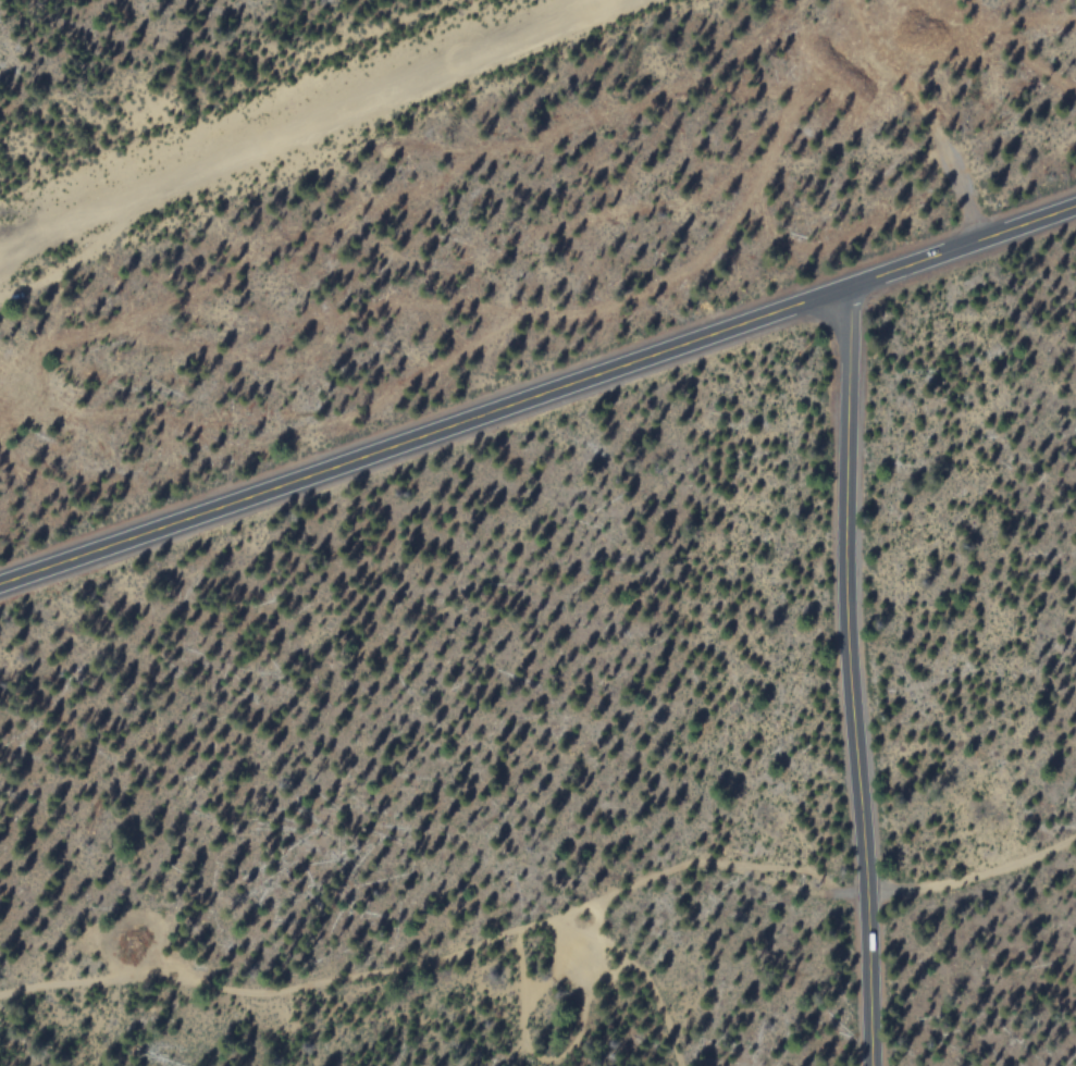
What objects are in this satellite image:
road: (926, 116)
airport runway: (296, 122)
road: (537, 396)
road: (850, 675)
road: (991, 878)
road: (442, 960)

